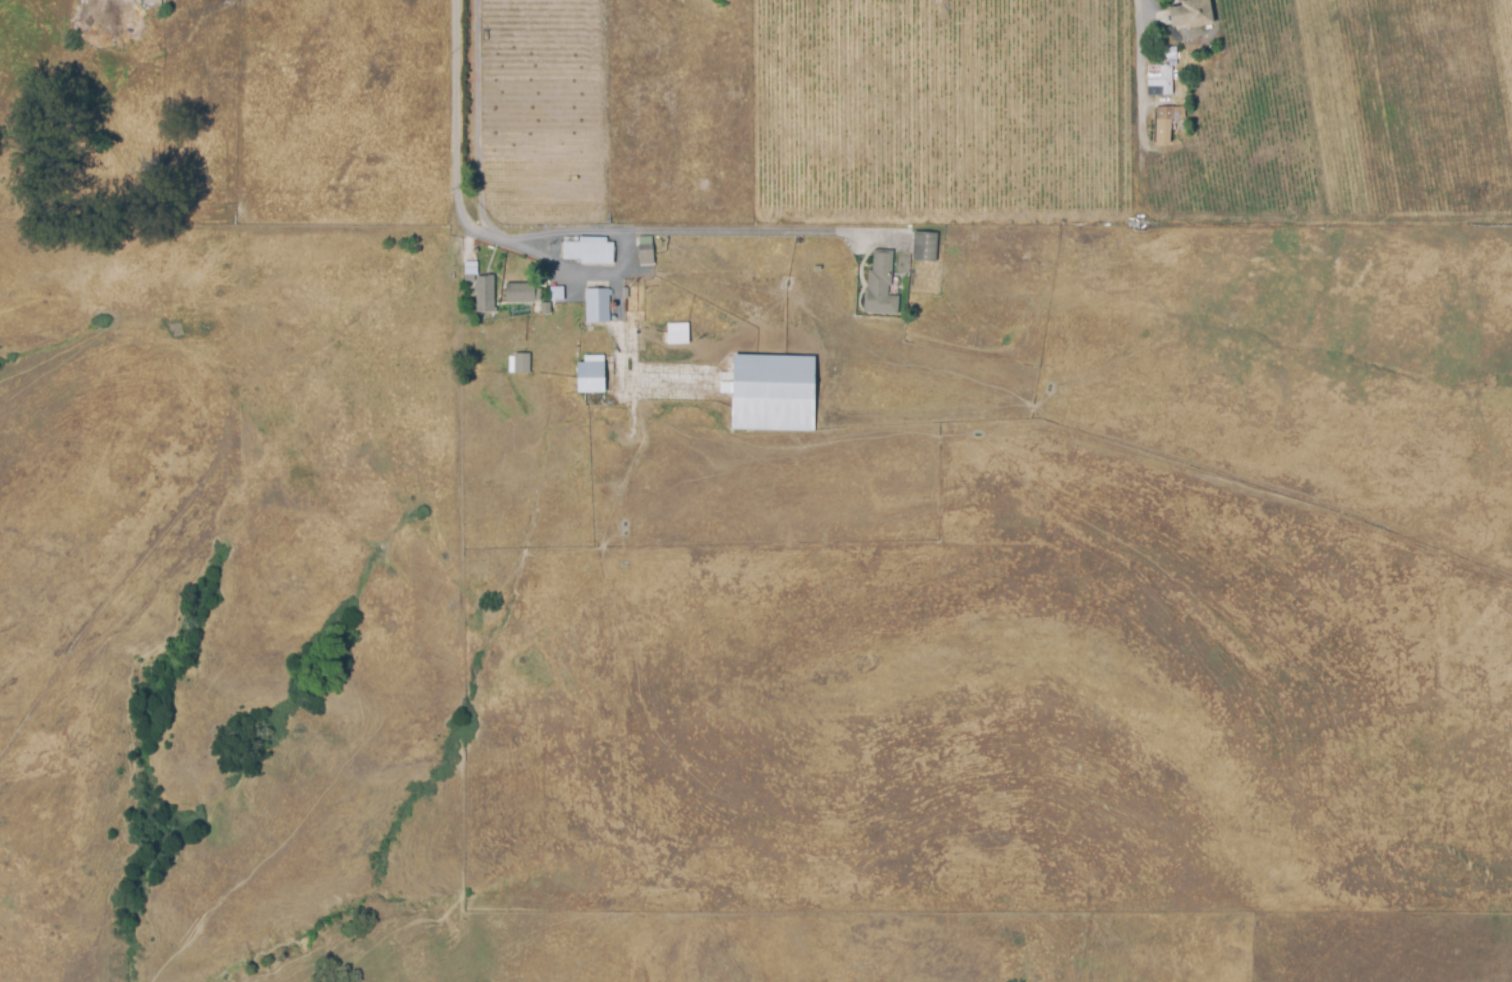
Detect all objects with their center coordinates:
building: (153, 5)
building: (1191, 11)
building: (1168, 54)
road: (1139, 70)
building: (1159, 81)
building: (1163, 126)
road: (457, 130)
road: (680, 231)
building: (924, 246)
building: (646, 253)
building: (589, 254)
building: (818, 269)
building: (469, 271)
road: (585, 271)
building: (881, 283)
building: (485, 294)
building: (530, 296)
building: (598, 305)
building: (677, 333)
building: (521, 363)
building: (590, 375)
building: (773, 392)

